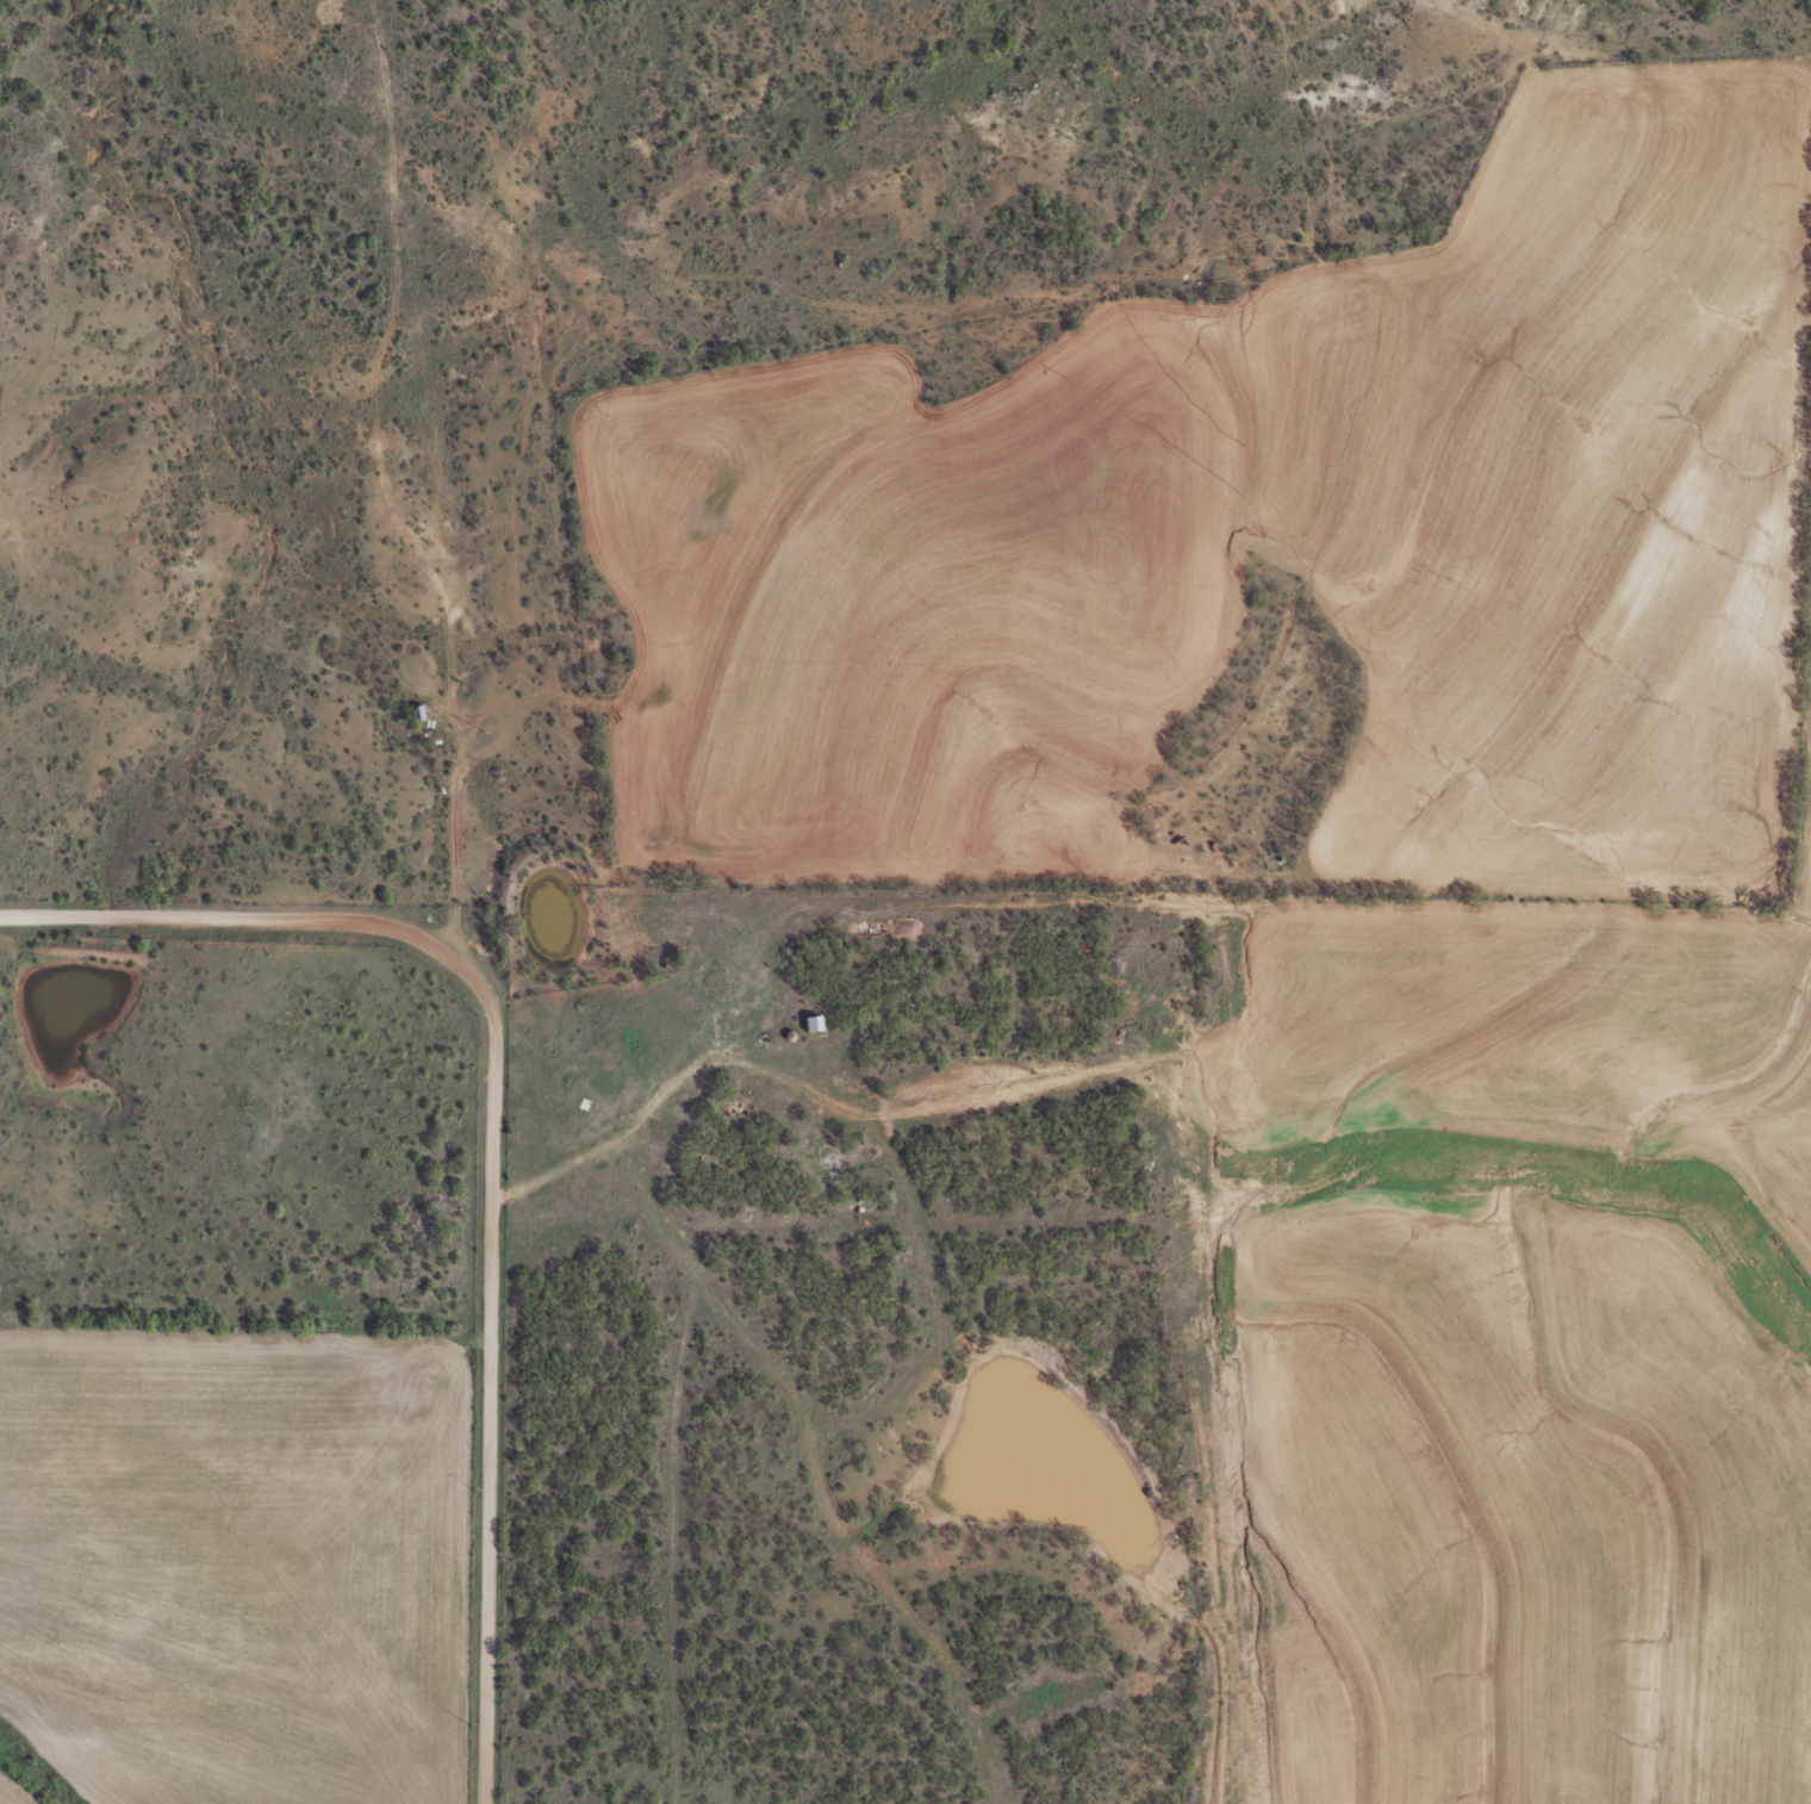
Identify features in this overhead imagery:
building: (813, 1025)
road: (498, 1140)

